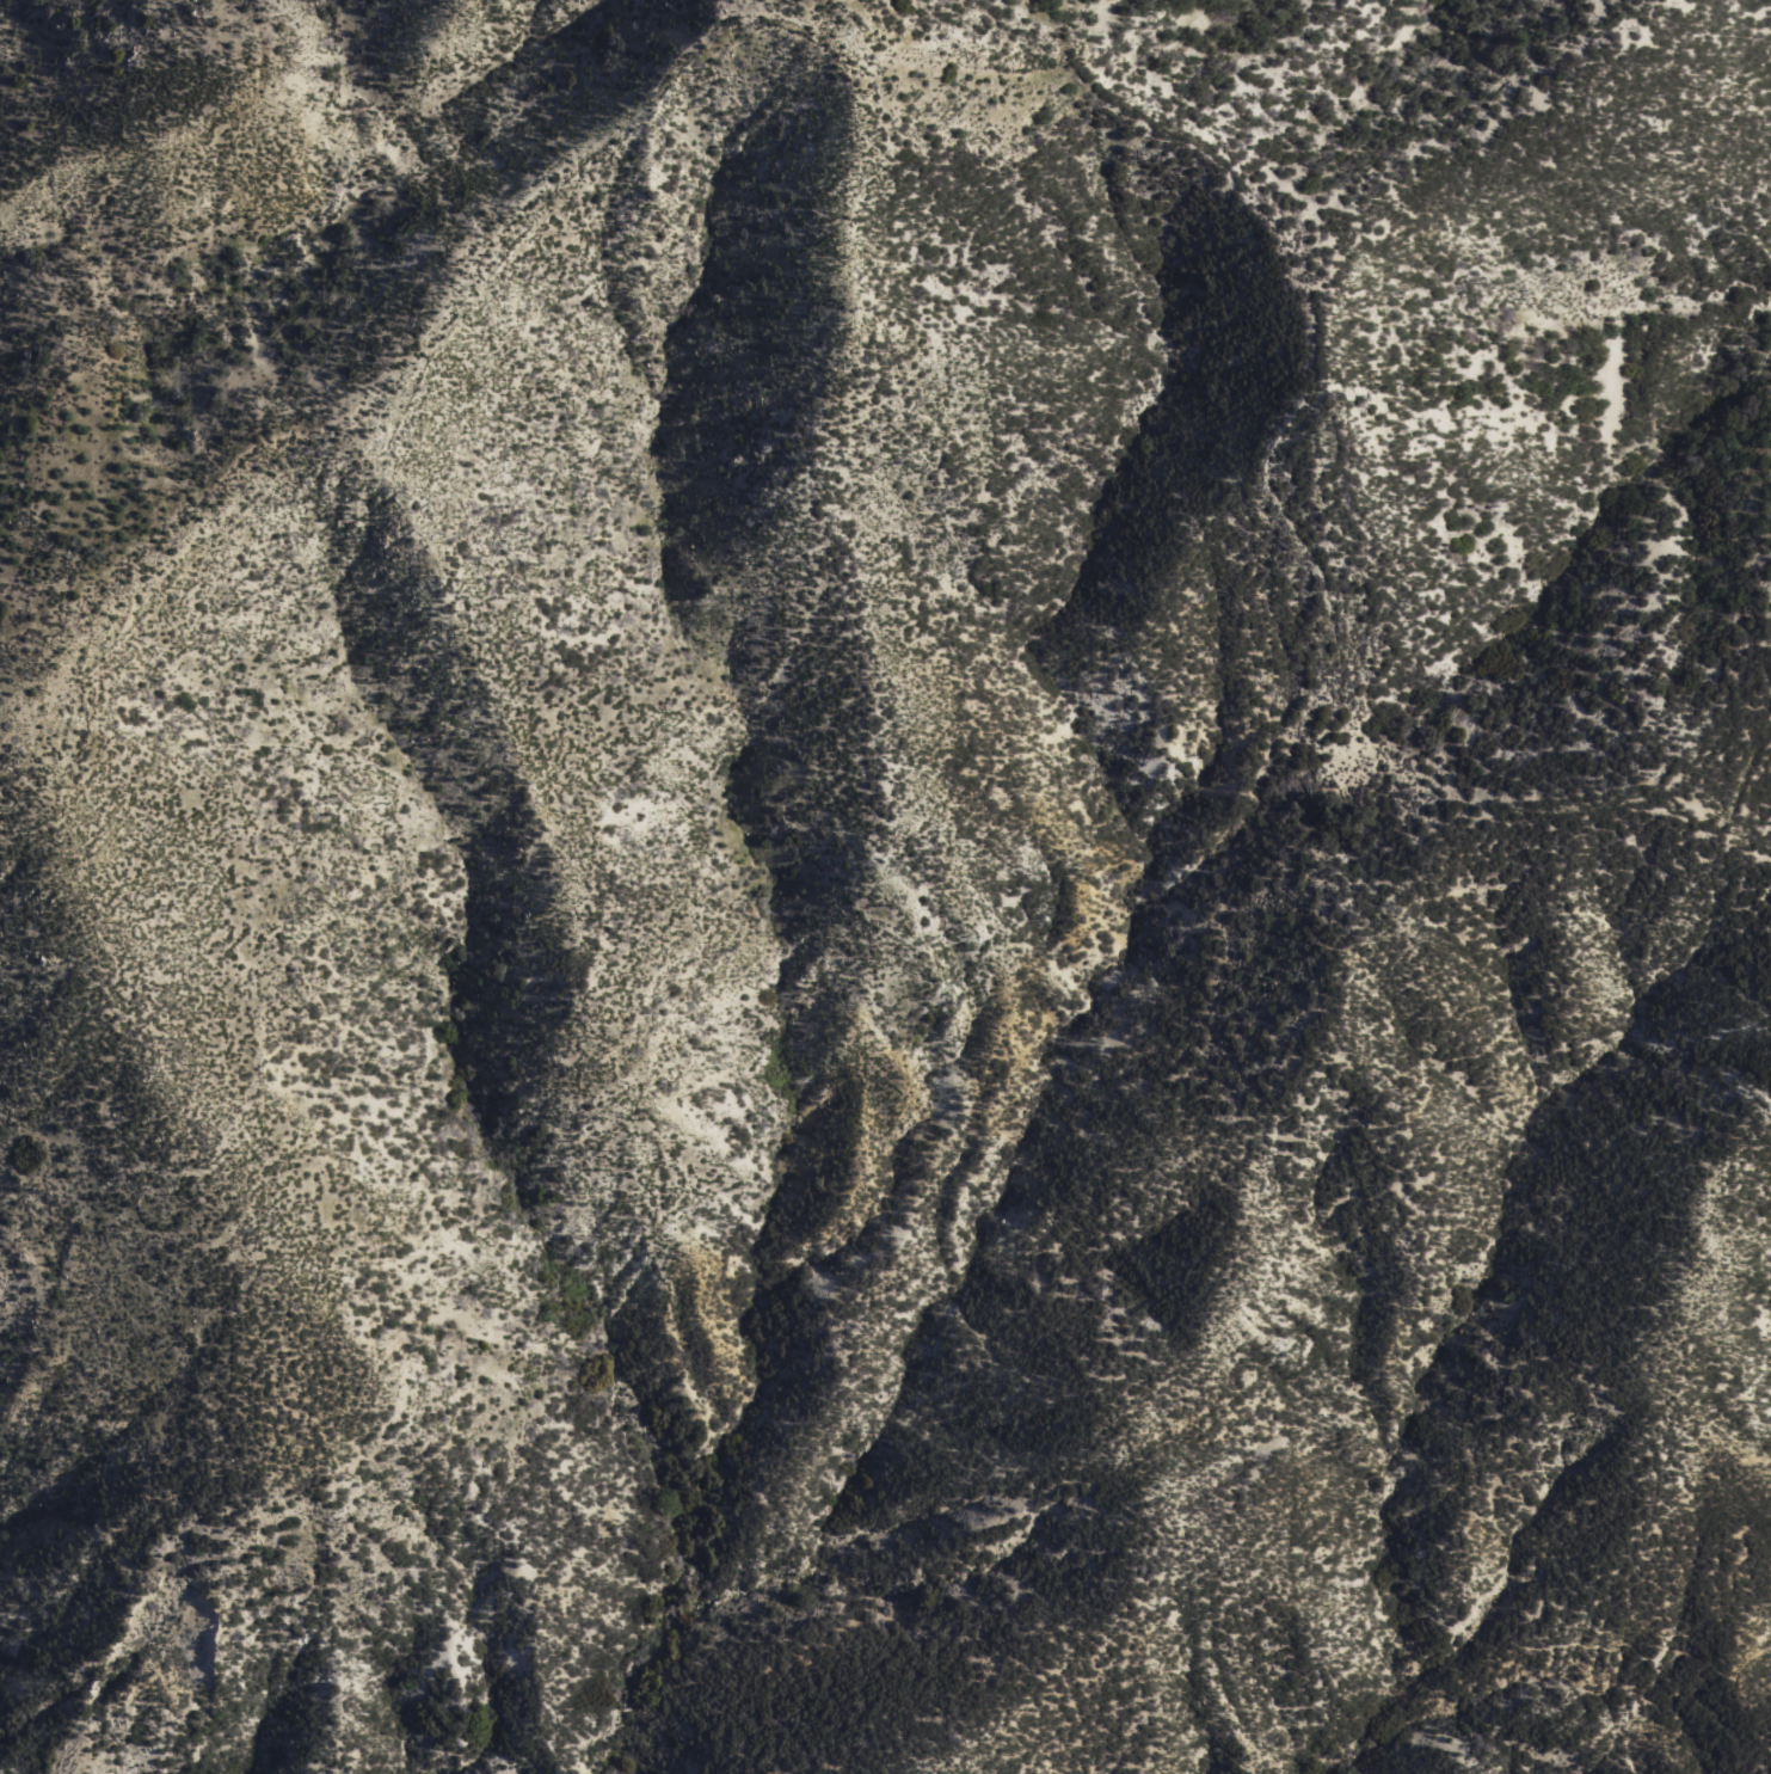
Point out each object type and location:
road: (1432, 1602)
road: (607, 1751)
road: (466, 1755)

